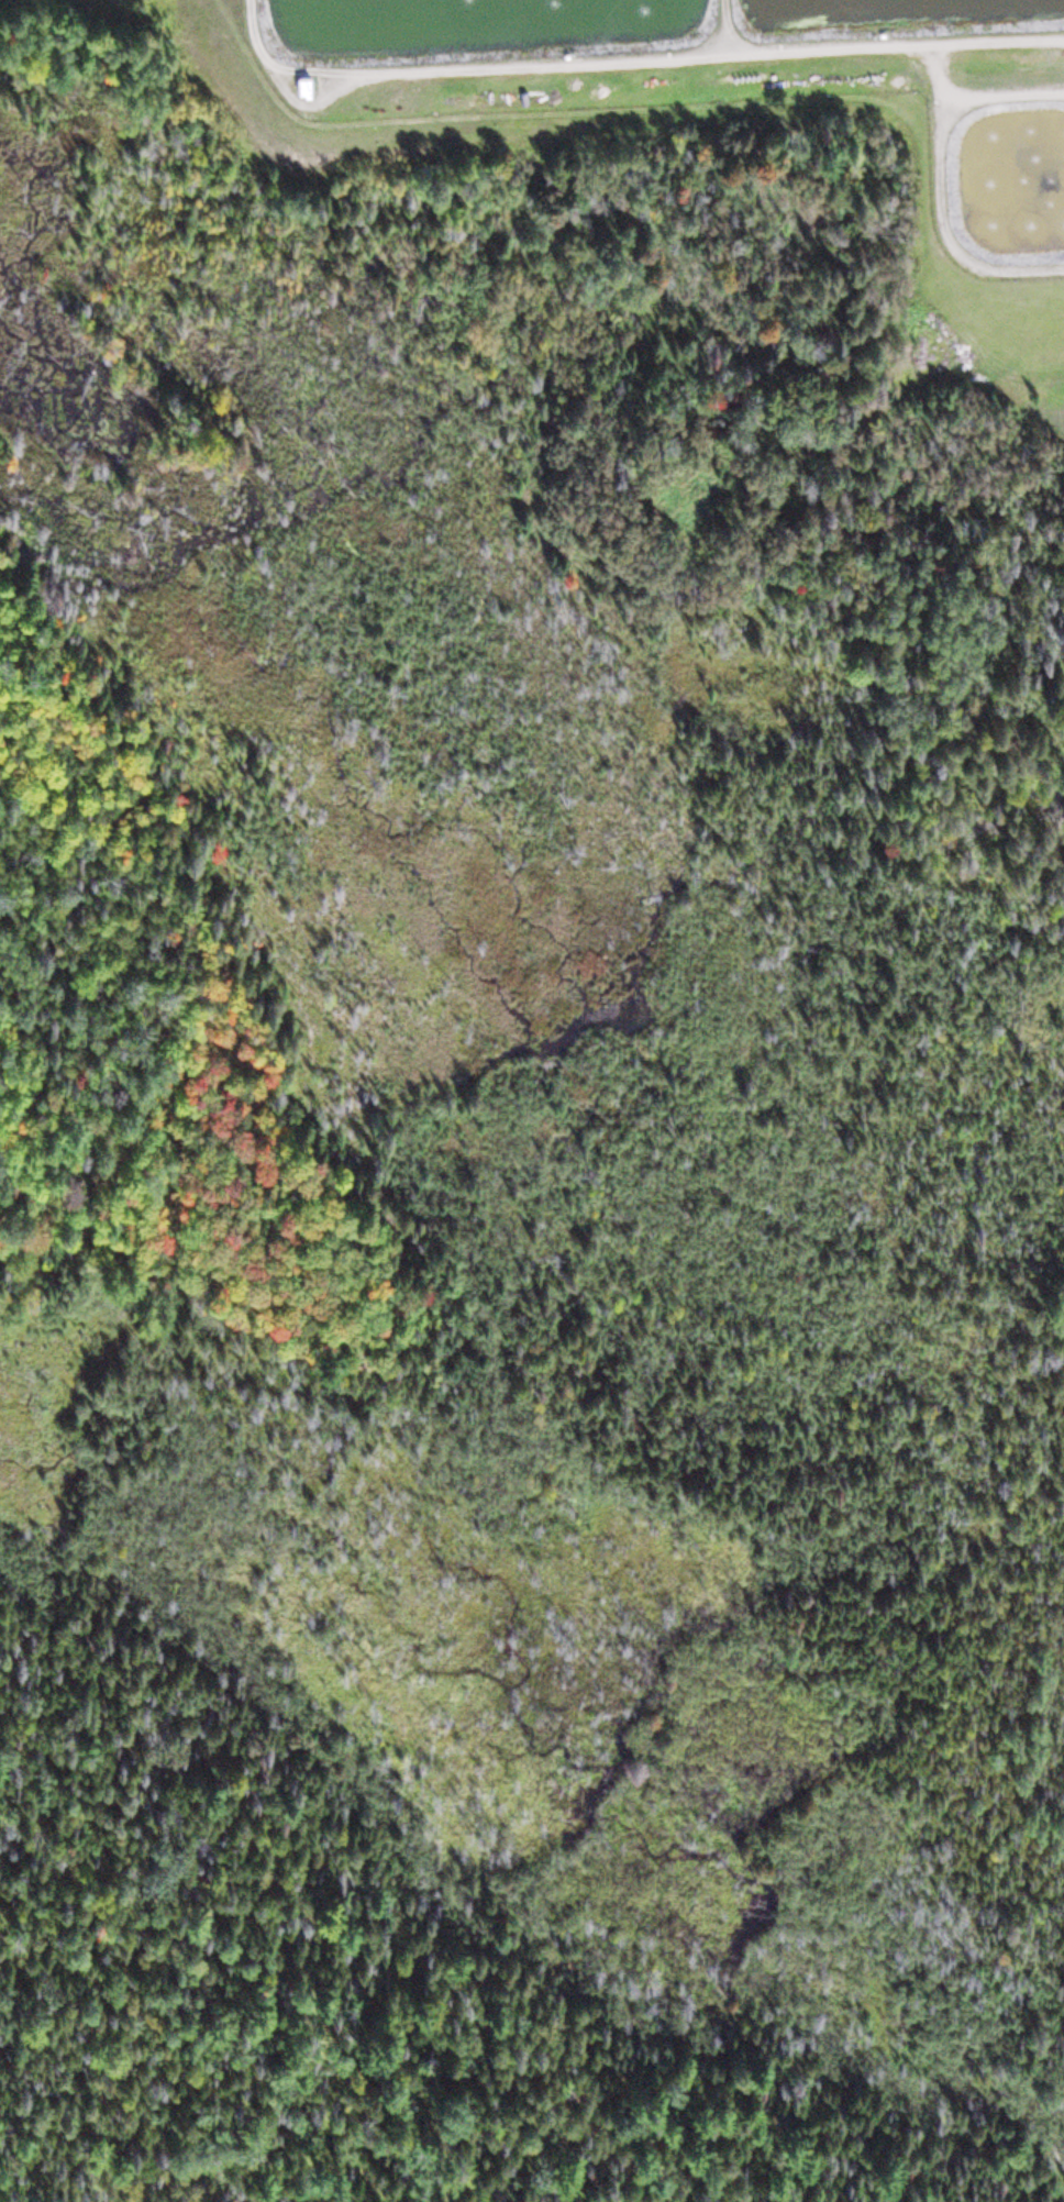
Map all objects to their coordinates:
building: (310, 75)
wastewater plant: (677, 99)

